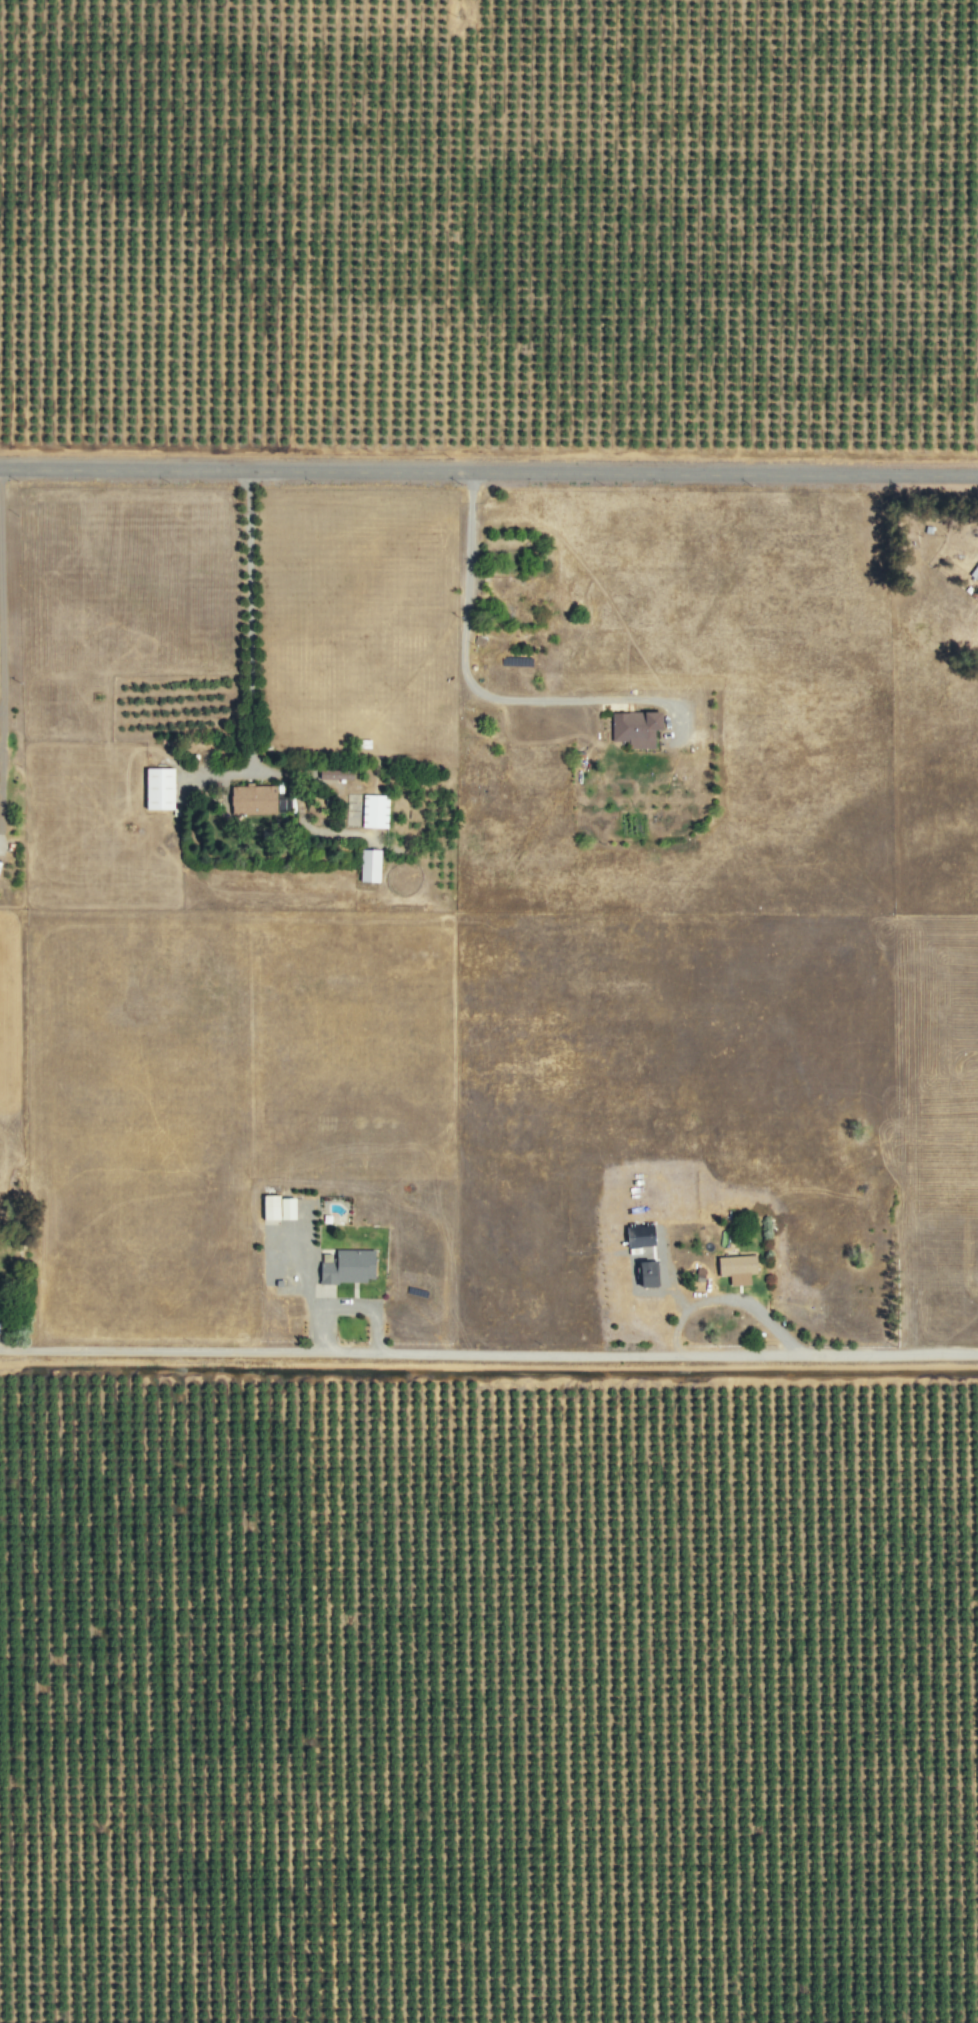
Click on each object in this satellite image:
road: (488, 471)
building: (973, 573)
road: (463, 657)
road: (1, 706)
building: (633, 728)
building: (333, 774)
building: (155, 788)
building: (250, 798)
building: (372, 810)
building: (367, 865)
building: (275, 1207)
building: (636, 1235)
building: (734, 1265)
building: (345, 1266)
building: (644, 1274)
road: (489, 1350)

